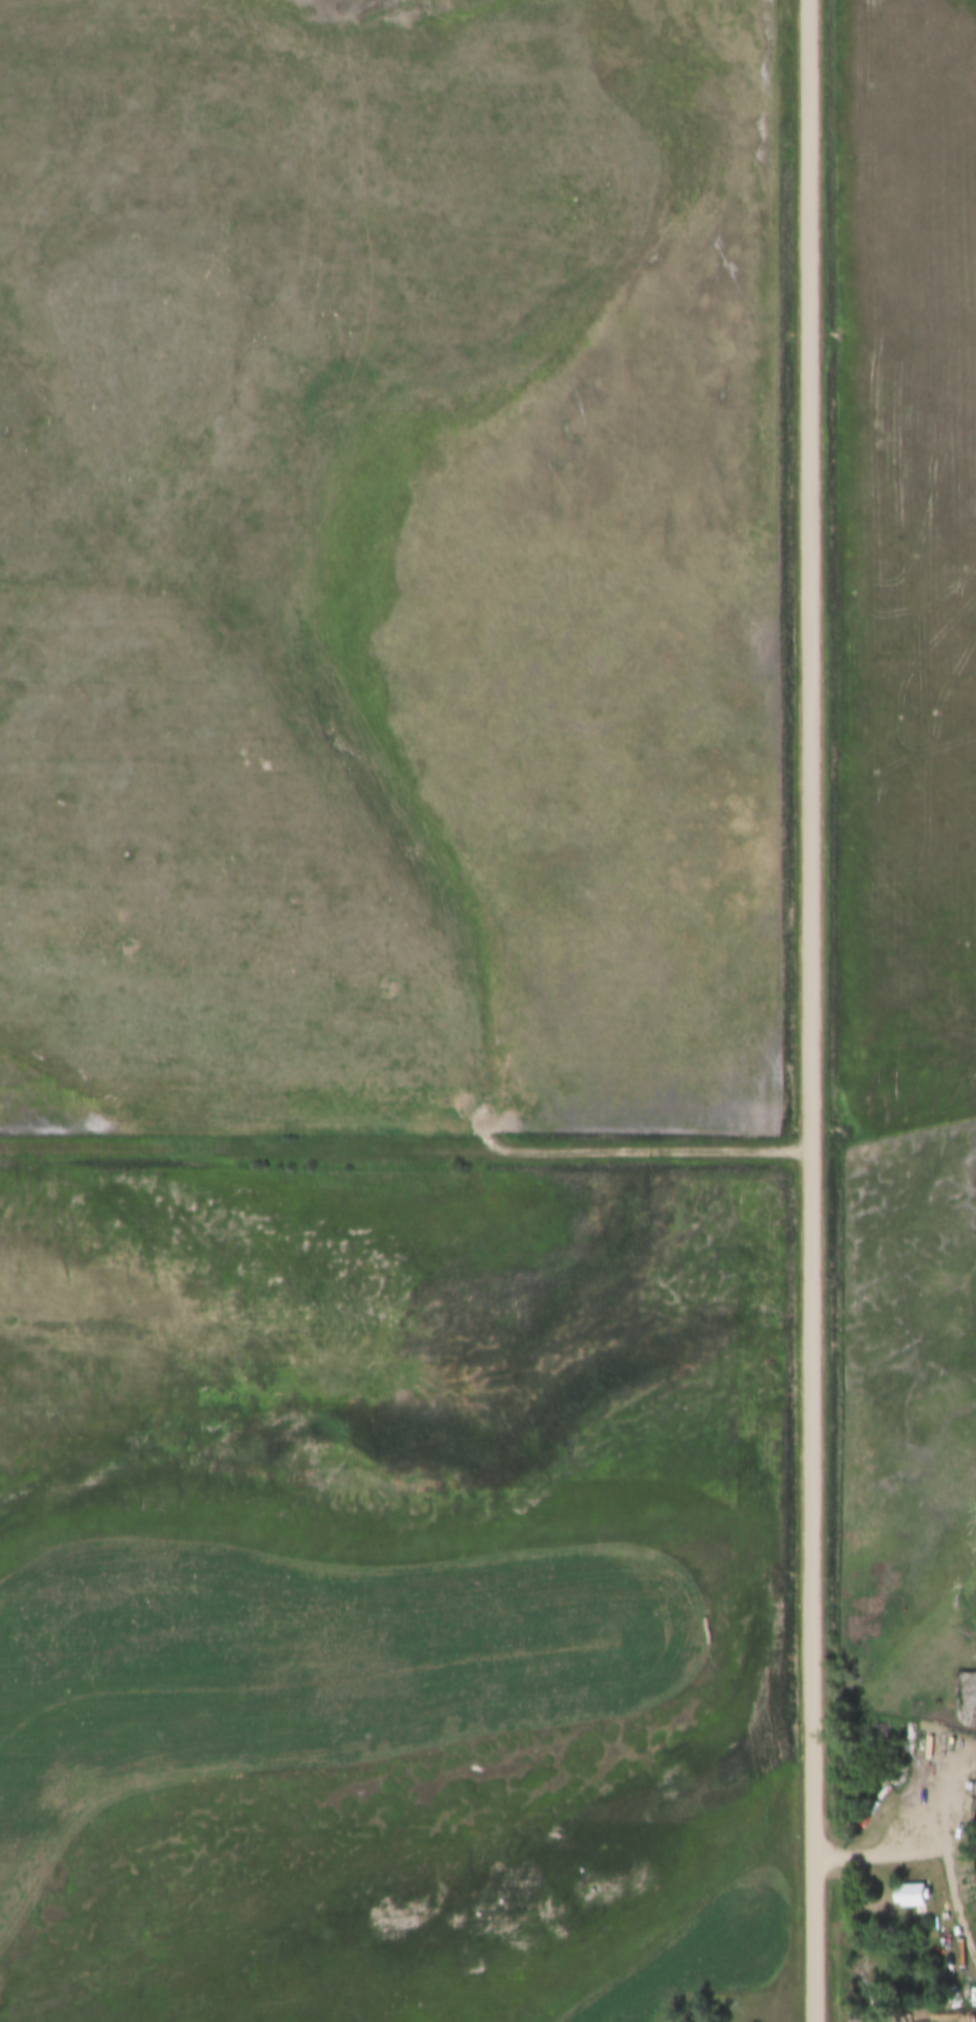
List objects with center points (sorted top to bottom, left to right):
road: (811, 1010)
road: (491, 1135)
road: (405, 1147)
building: (914, 1731)
building: (910, 1754)
road: (922, 1854)
building: (911, 1896)

